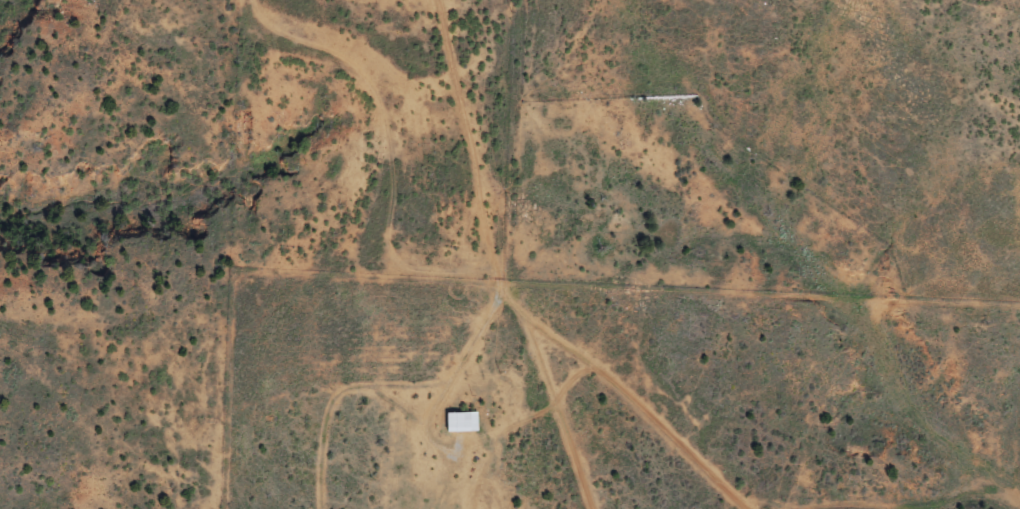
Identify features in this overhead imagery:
road: (504, 263)
road: (626, 375)
building: (460, 421)

